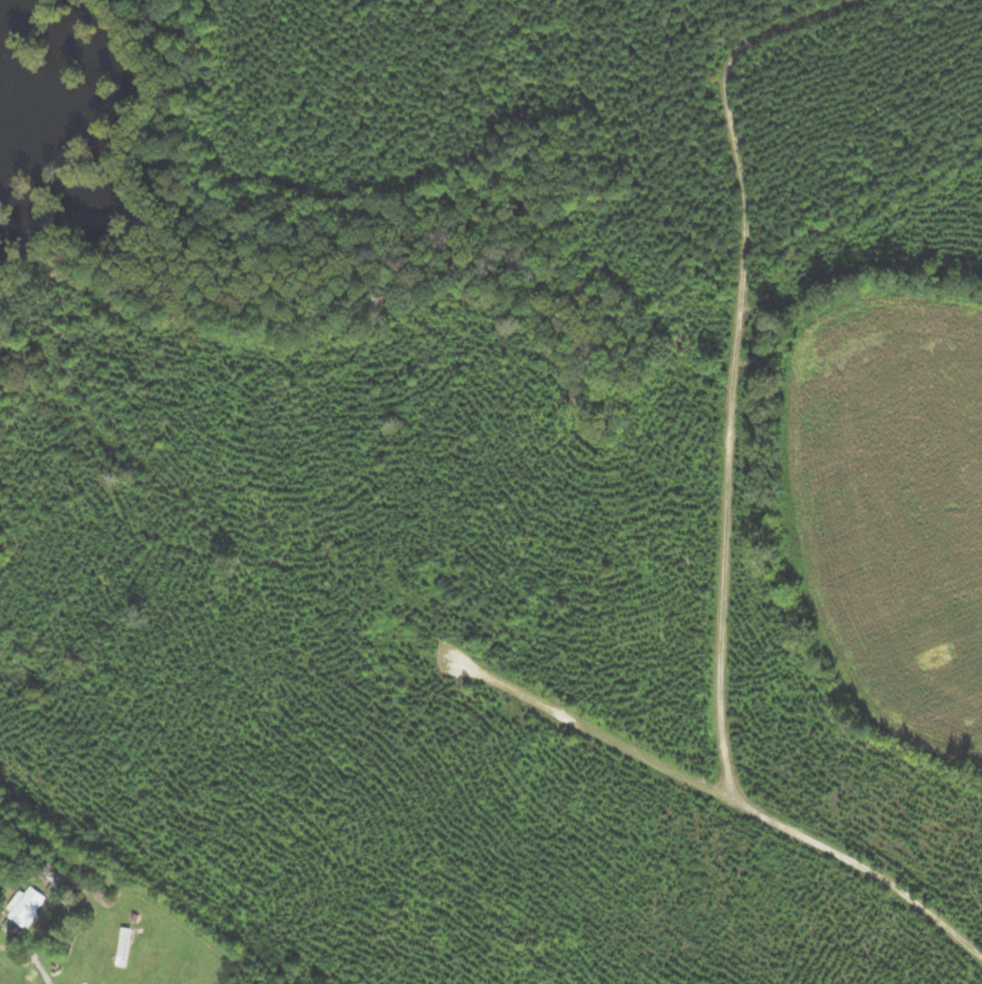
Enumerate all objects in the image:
road: (728, 492)
road: (594, 727)
building: (59, 874)
building: (30, 908)
building: (124, 948)

